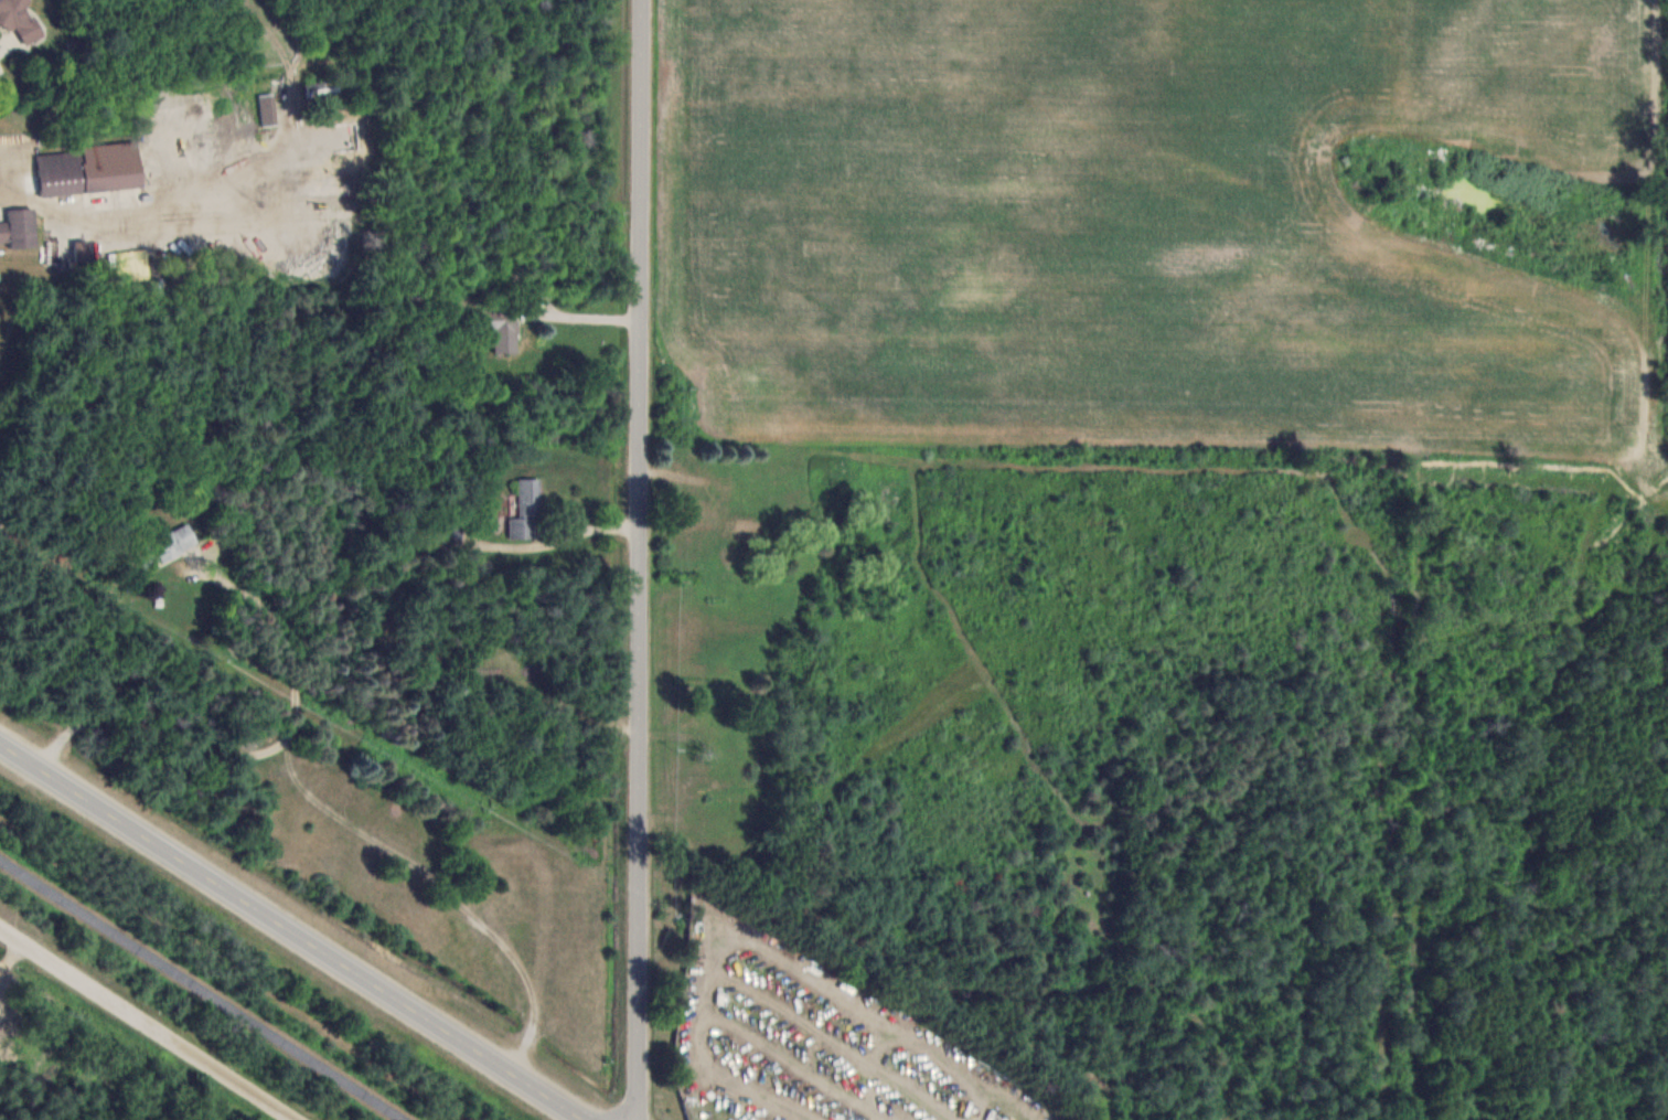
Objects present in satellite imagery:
building: (19, 19)
building: (86, 174)
building: (20, 228)
building: (498, 328)
building: (724, 487)
building: (528, 510)
building: (706, 516)
road: (582, 530)
building: (168, 546)
road: (645, 559)
road: (291, 930)
road: (202, 989)
road: (147, 1024)

